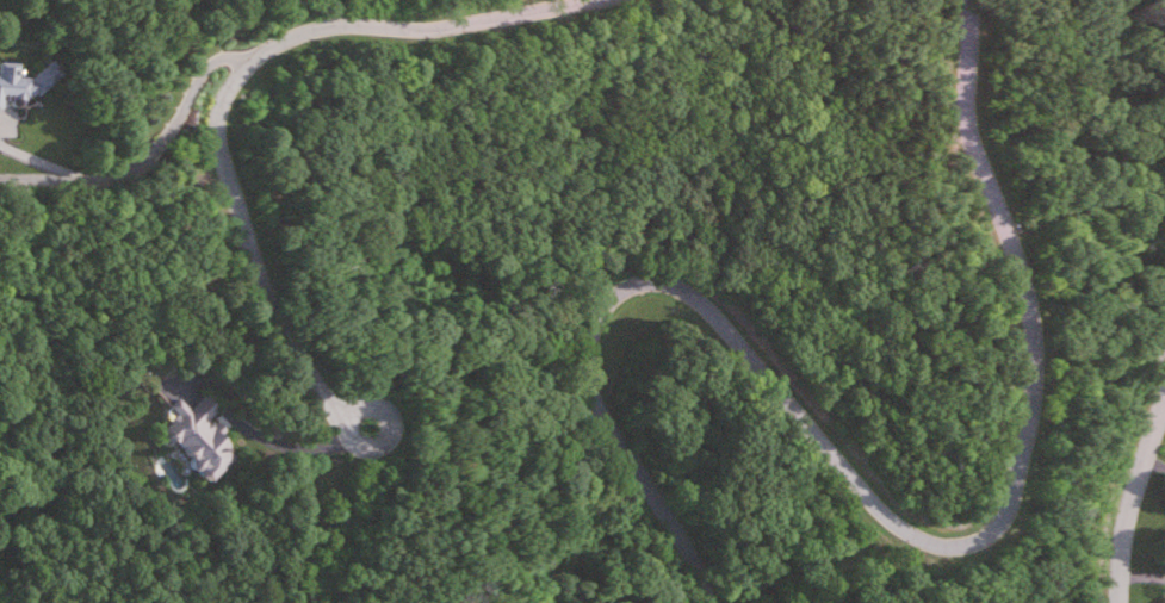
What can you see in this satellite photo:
building: (23, 83)
road: (234, 85)
road: (148, 151)
building: (202, 436)
road: (298, 448)
road: (1134, 498)
road: (872, 502)

